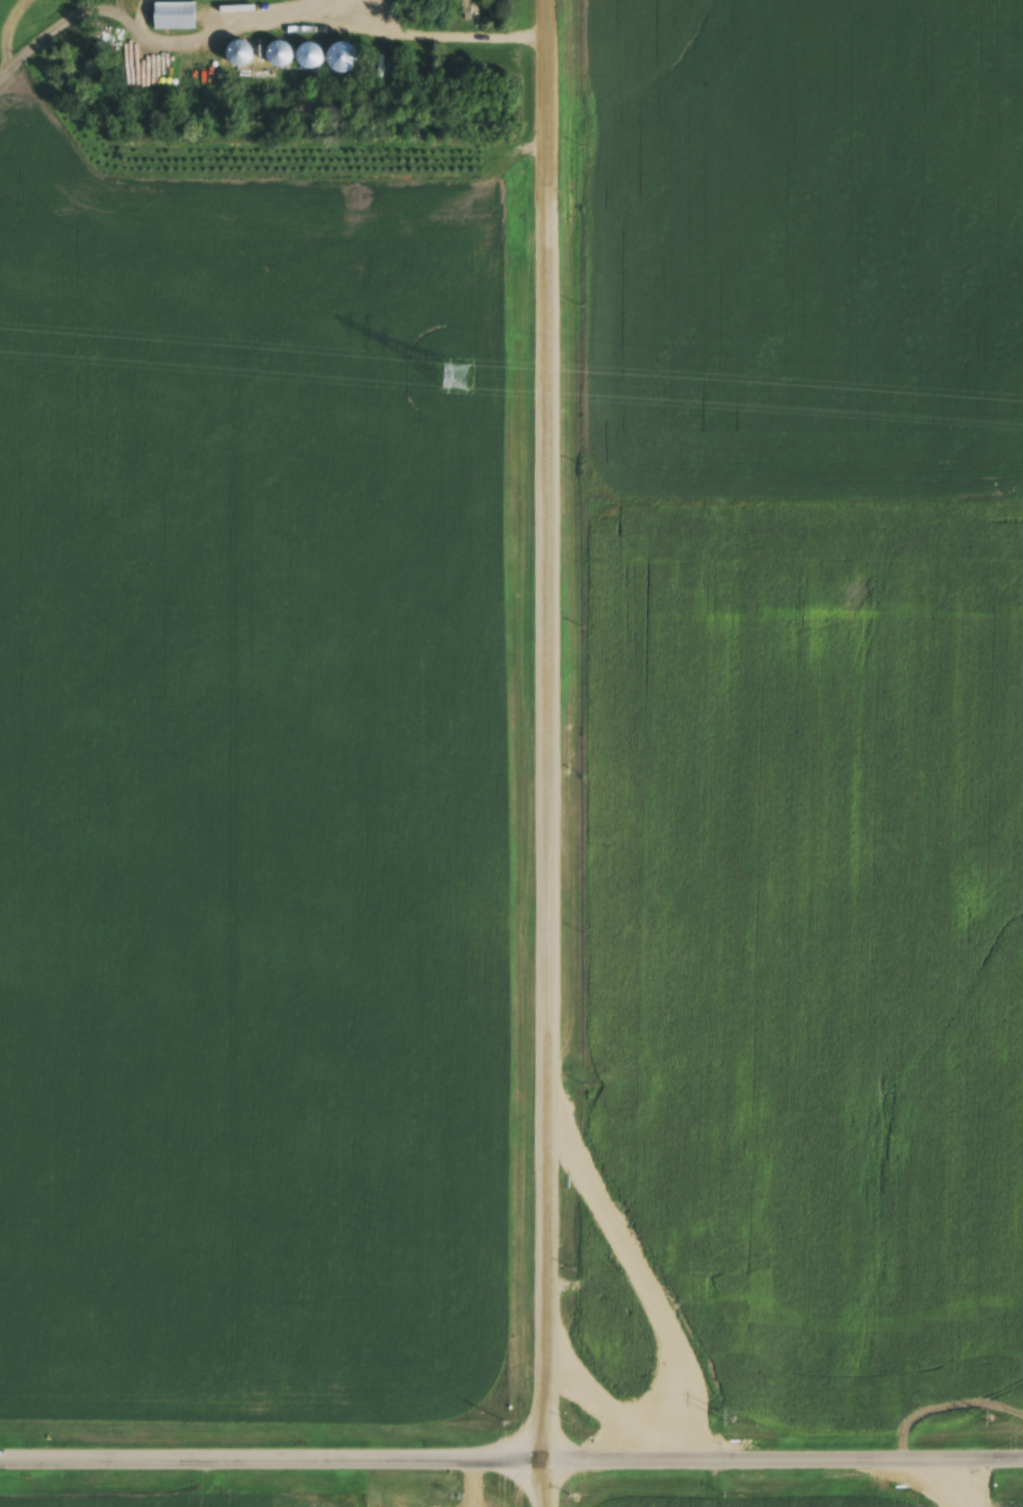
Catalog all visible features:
building: (460, 9)
building: (176, 17)
road: (448, 32)
building: (346, 53)
building: (281, 55)
building: (310, 56)
power tower: (455, 374)
road: (546, 726)
road: (784, 1452)
road: (273, 1454)
road: (546, 1480)

